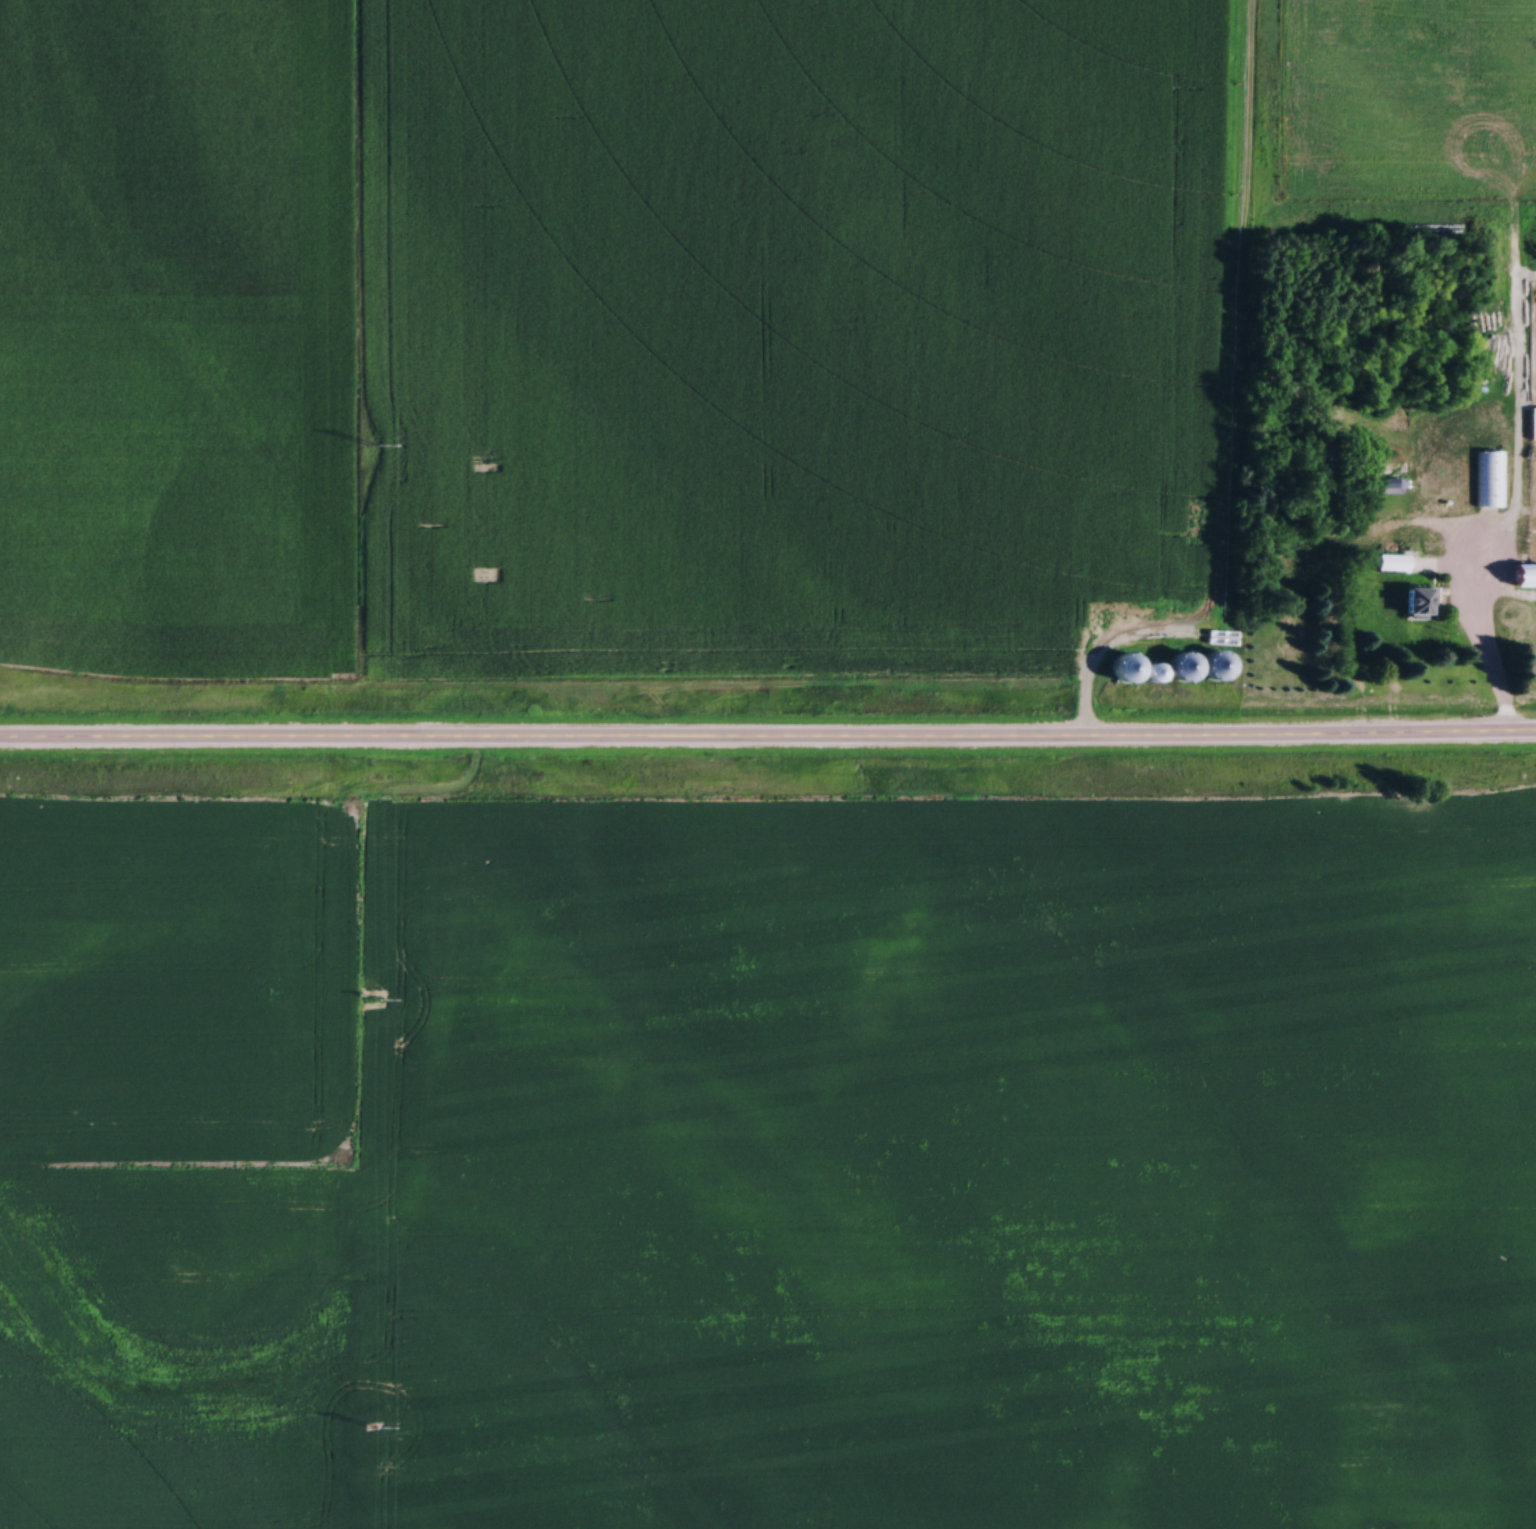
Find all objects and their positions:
building: (1532, 423)
power tower: (373, 445)
building: (1490, 479)
road: (1323, 574)
building: (1522, 576)
building: (1416, 601)
building: (1211, 666)
building: (1177, 667)
building: (1153, 672)
road: (768, 742)
power tower: (377, 1000)
power tower: (375, 1428)

